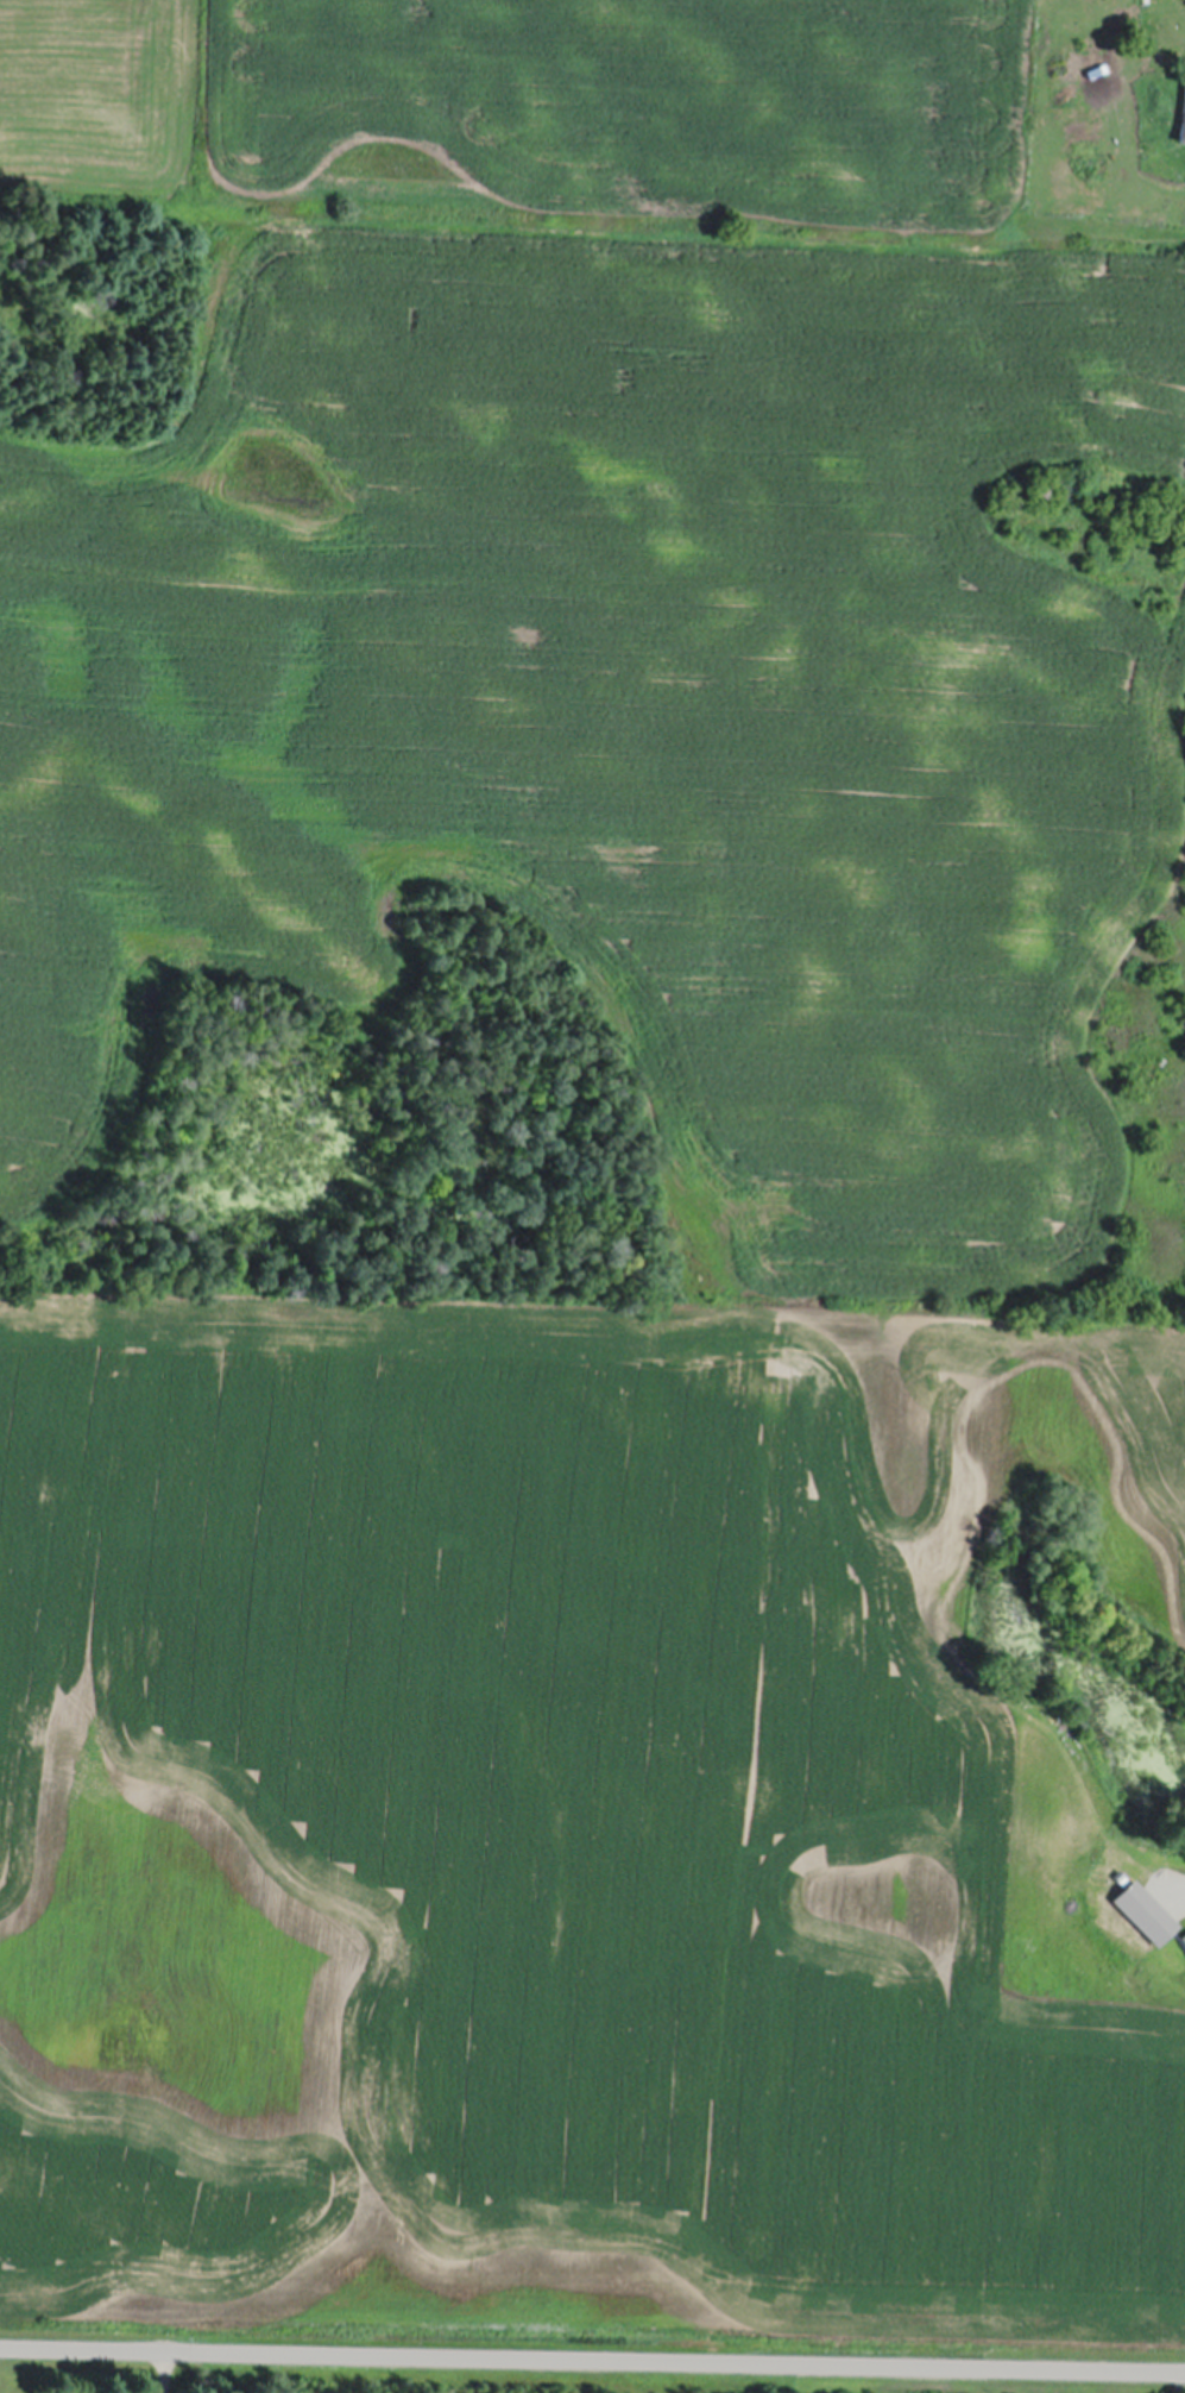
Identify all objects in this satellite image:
building: (1095, 68)
building: (1183, 119)
road: (592, 2357)

